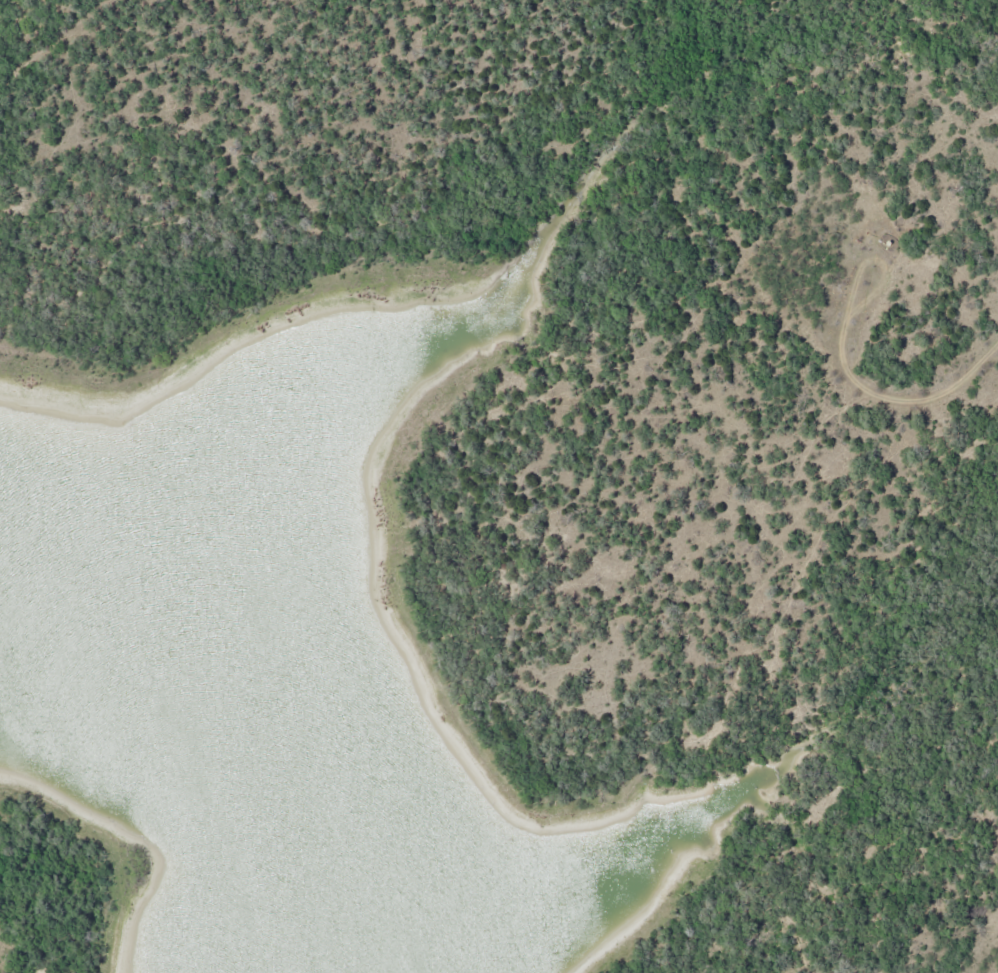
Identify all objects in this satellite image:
road: (867, 385)

